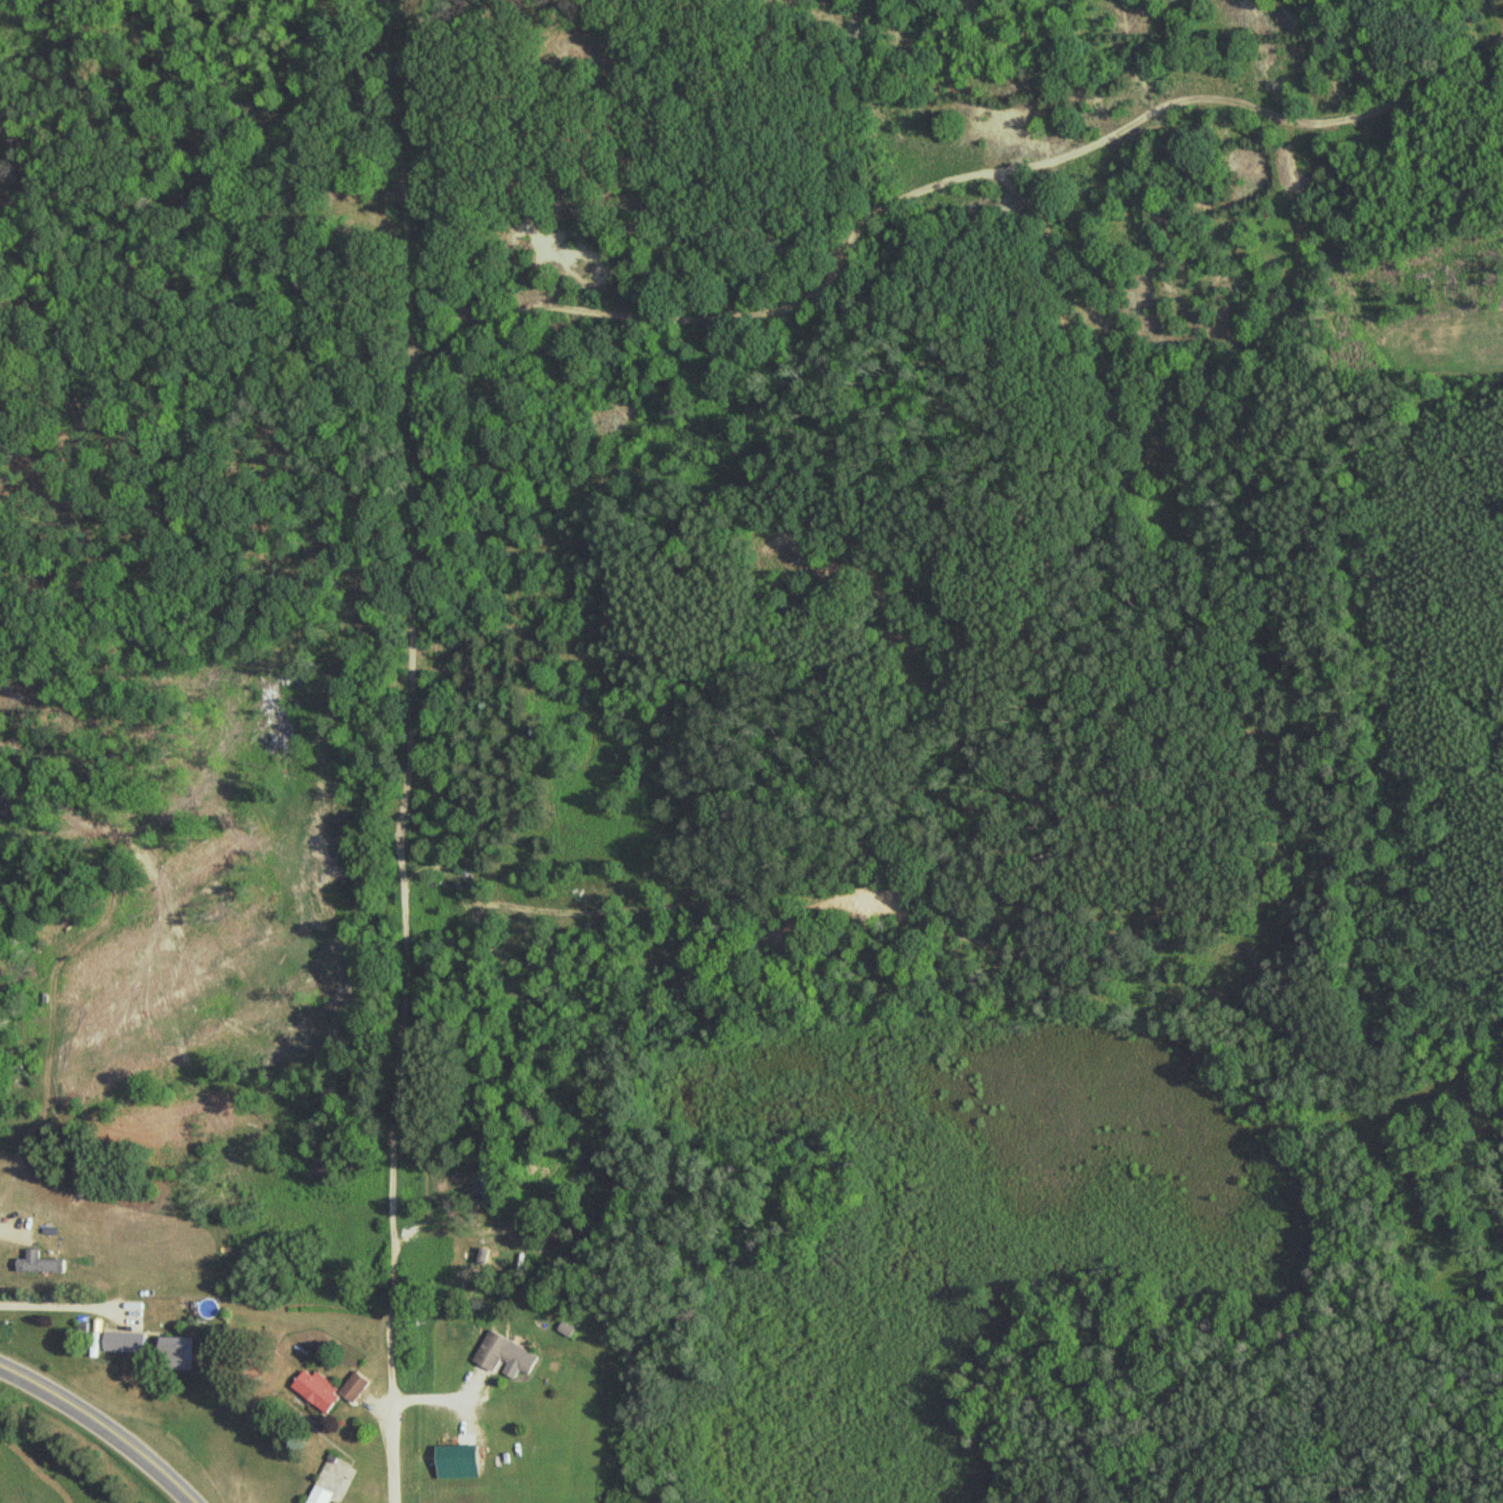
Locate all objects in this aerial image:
building: (42, 1263)
building: (126, 1341)
building: (179, 1347)
building: (507, 1353)
building: (330, 1389)
road: (101, 1426)
road: (392, 1456)
building: (322, 1495)

